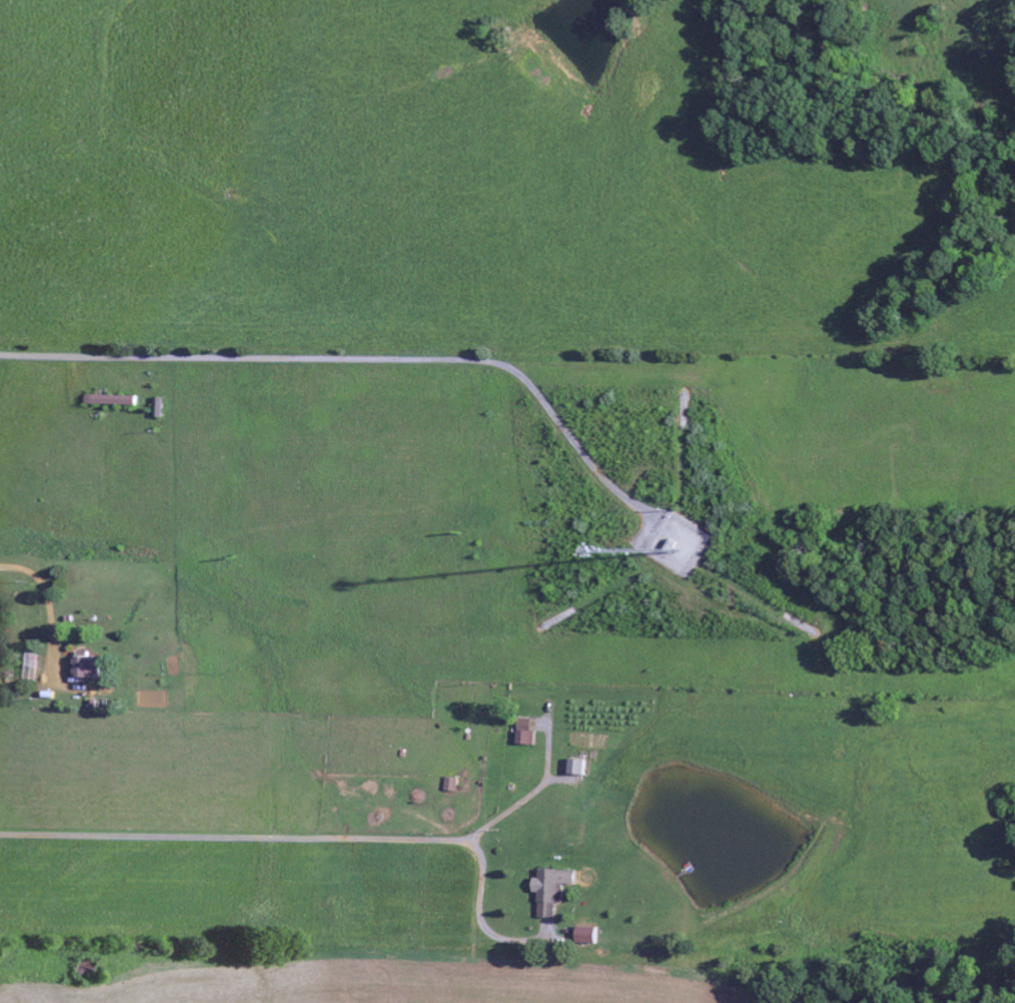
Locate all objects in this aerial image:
building: (111, 400)
building: (89, 666)
building: (525, 732)
building: (578, 767)
building: (554, 889)
building: (589, 936)

